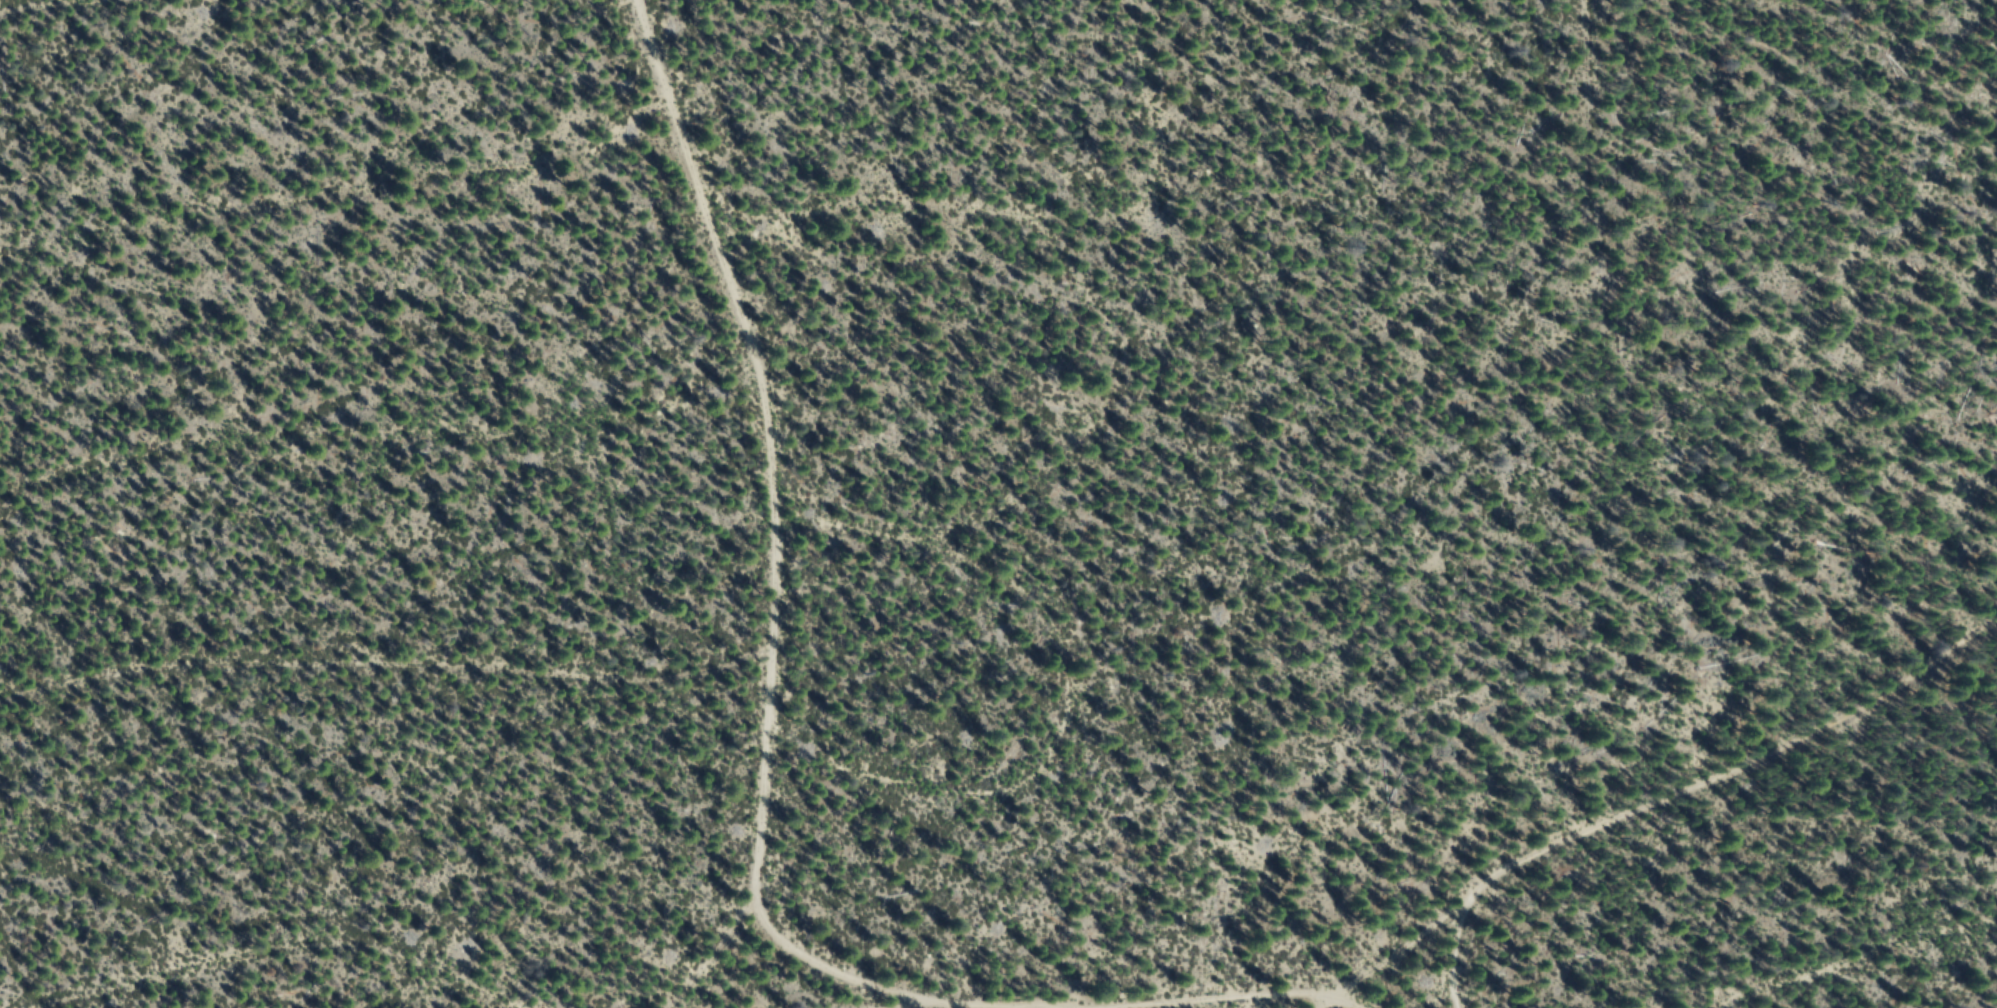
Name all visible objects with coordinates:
road: (163, 17)
road: (342, 192)
road: (1052, 196)
road: (374, 406)
road: (1133, 421)
road: (767, 546)
road: (383, 678)
road: (1105, 695)
road: (1488, 919)
road: (715, 953)
road: (1857, 962)
road: (330, 964)
road: (1481, 966)
road: (1348, 999)
road: (924, 1007)

